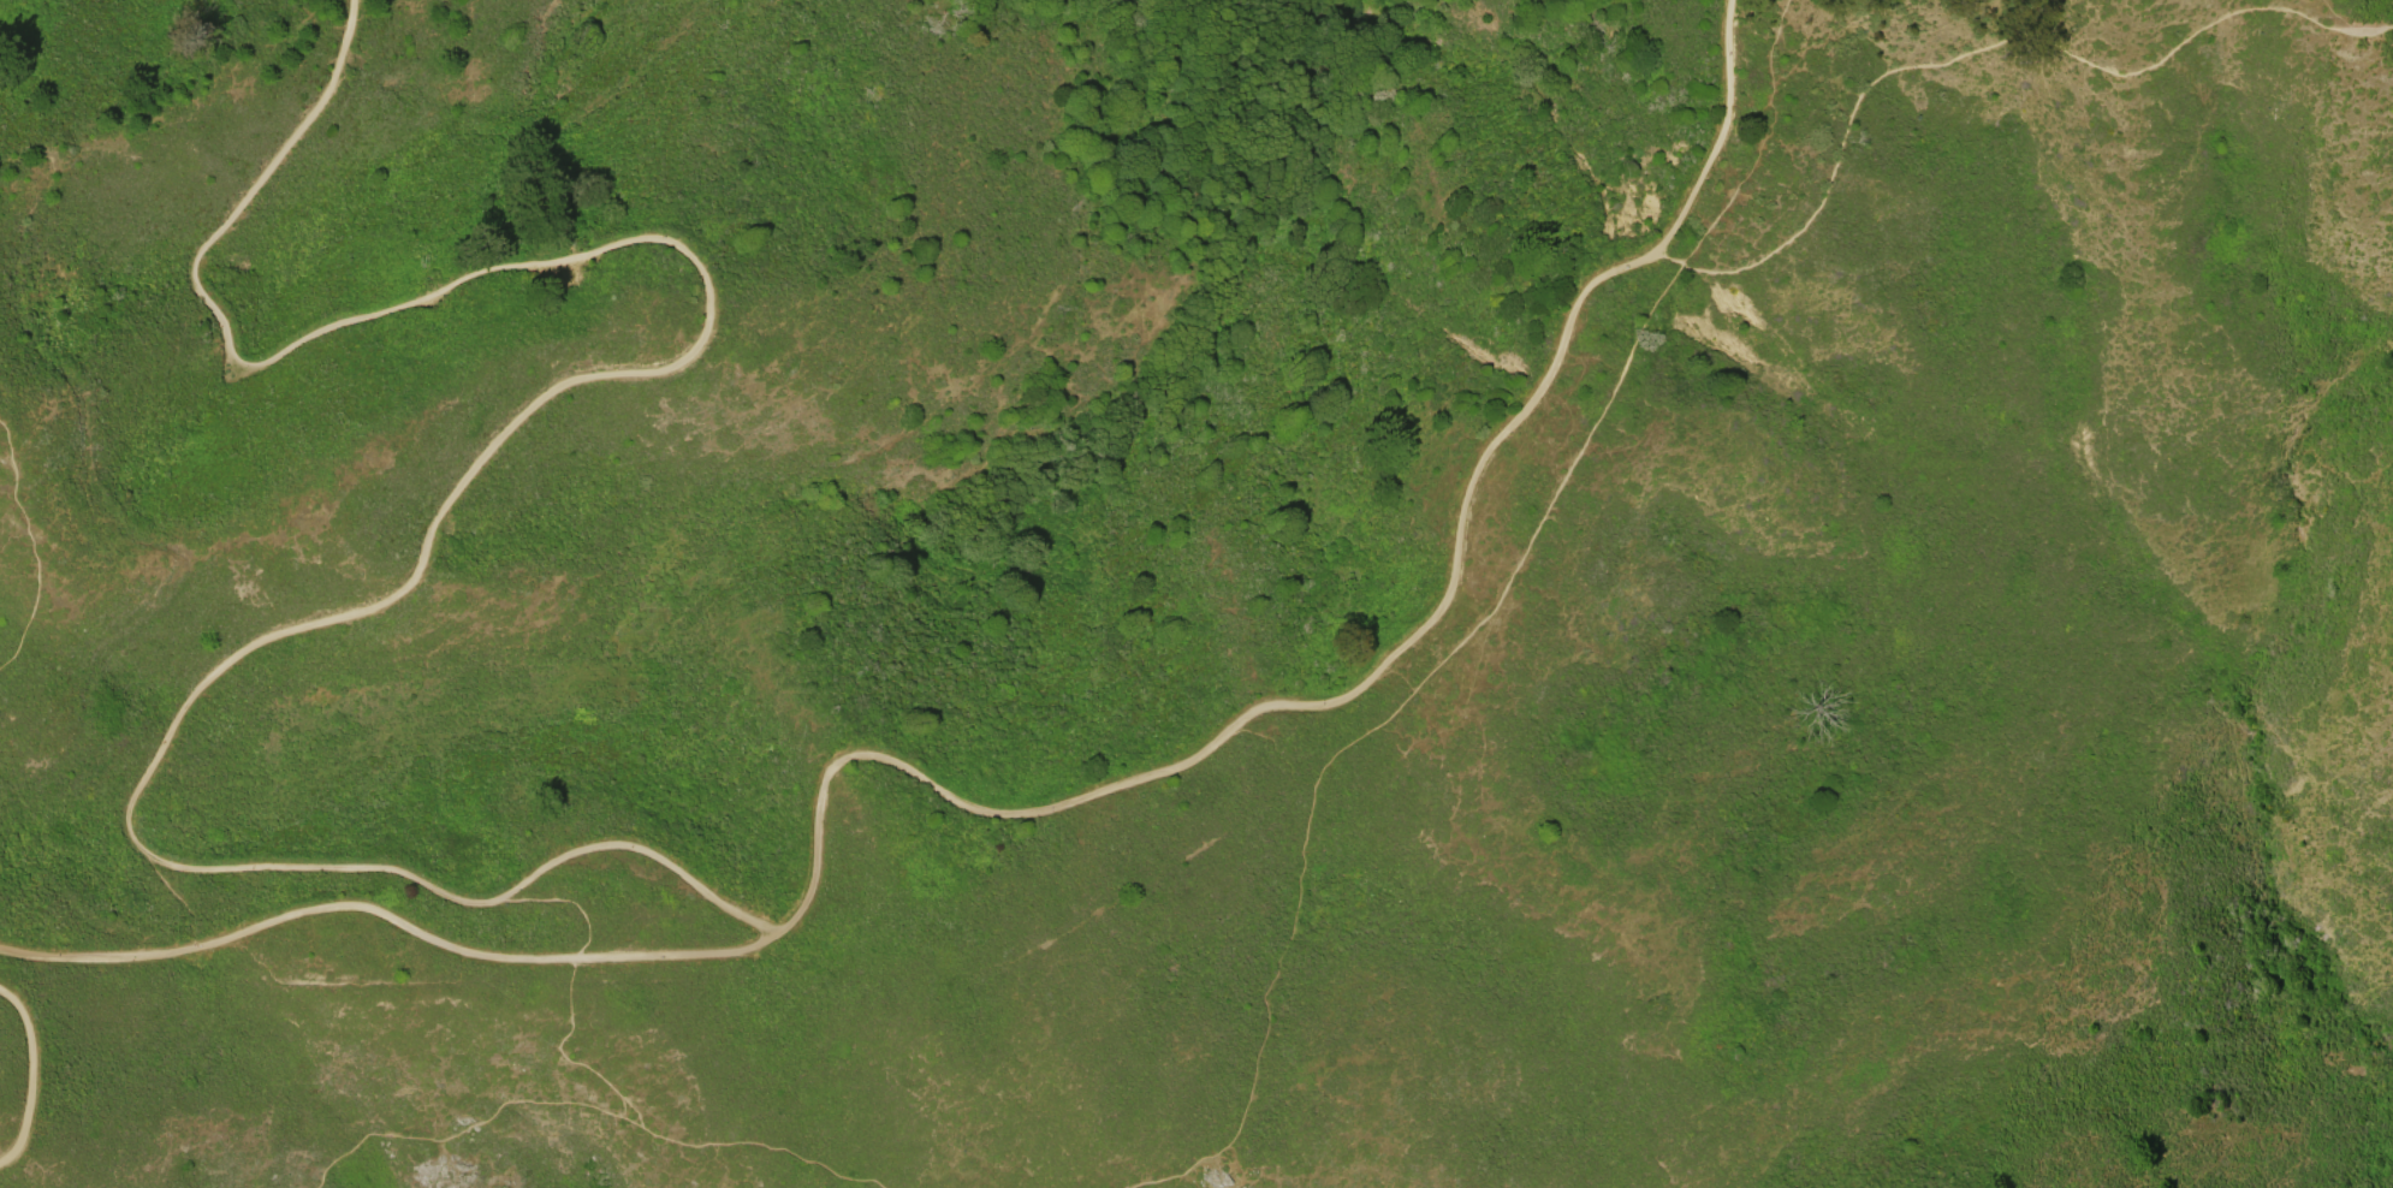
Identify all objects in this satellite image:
road: (1983, 47)
road: (1724, 136)
road: (485, 452)
road: (34, 548)
road: (1265, 717)
road: (1479, 726)
road: (1370, 731)
road: (387, 915)
road: (571, 987)
road: (31, 1075)
road: (589, 1101)
road: (441, 1150)

